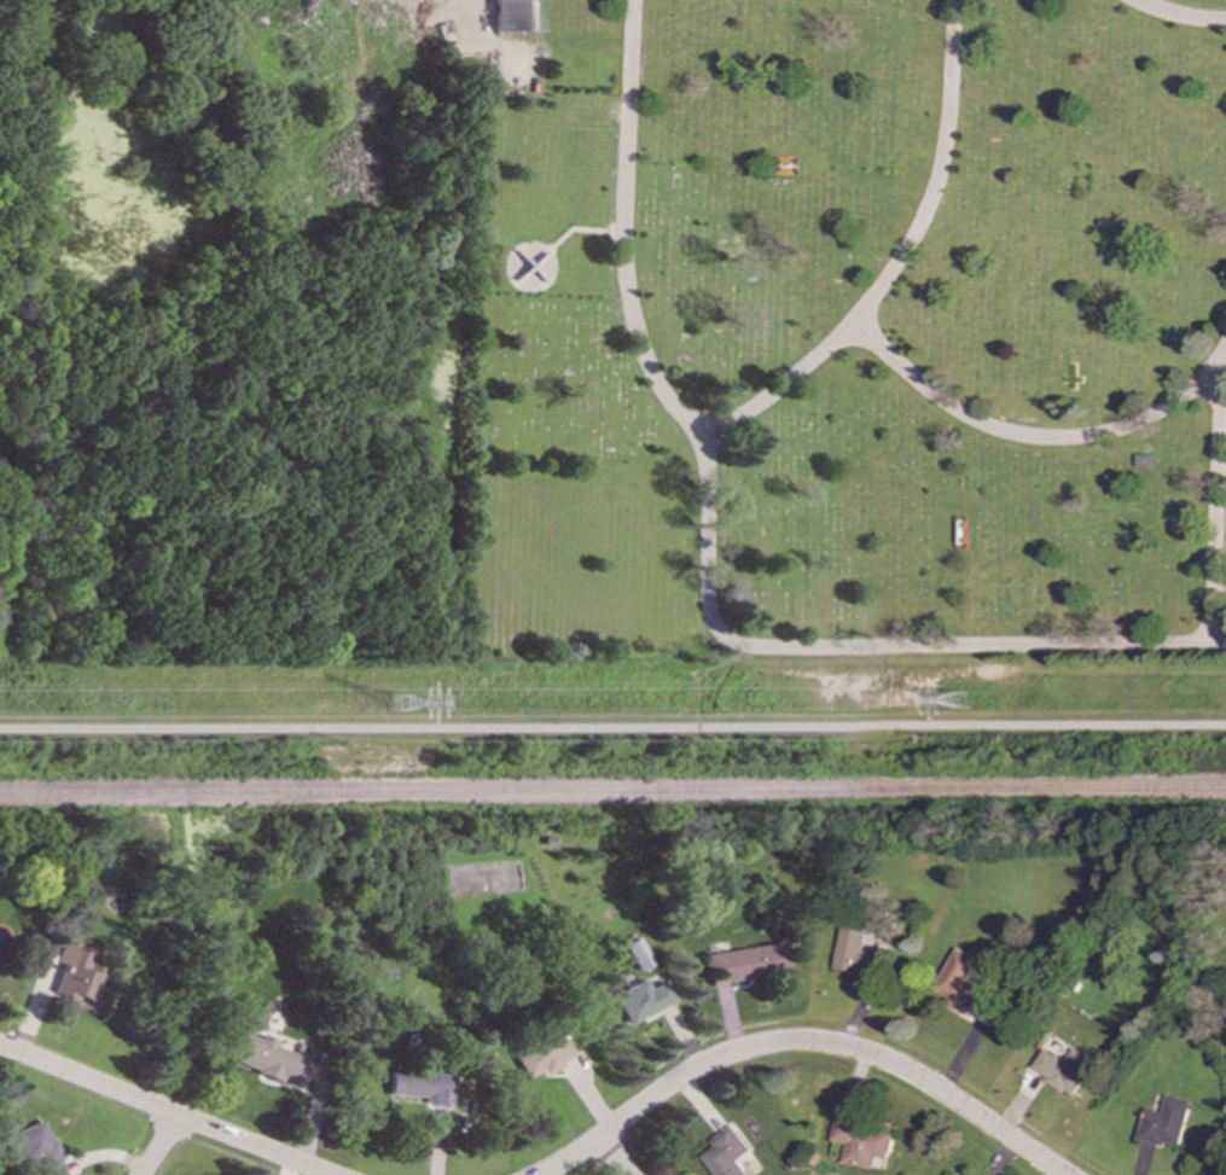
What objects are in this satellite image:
building: (518, 14)
road: (1178, 19)
road: (902, 261)
park: (612, 332)
road: (1040, 440)
road: (1214, 500)
road: (715, 558)
power tower: (400, 703)
power tower: (964, 703)
road: (612, 726)
railway: (612, 791)
building: (0, 930)
building: (637, 953)
building: (853, 954)
building: (745, 961)
building: (76, 973)
building: (957, 982)
building: (640, 999)
road: (798, 1042)
building: (541, 1052)
building: (268, 1057)
building: (1061, 1069)
building: (418, 1083)
road: (164, 1107)
building: (1162, 1122)
building: (859, 1142)
road: (163, 1145)
building: (31, 1148)
building: (725, 1152)
road: (615, 1156)

